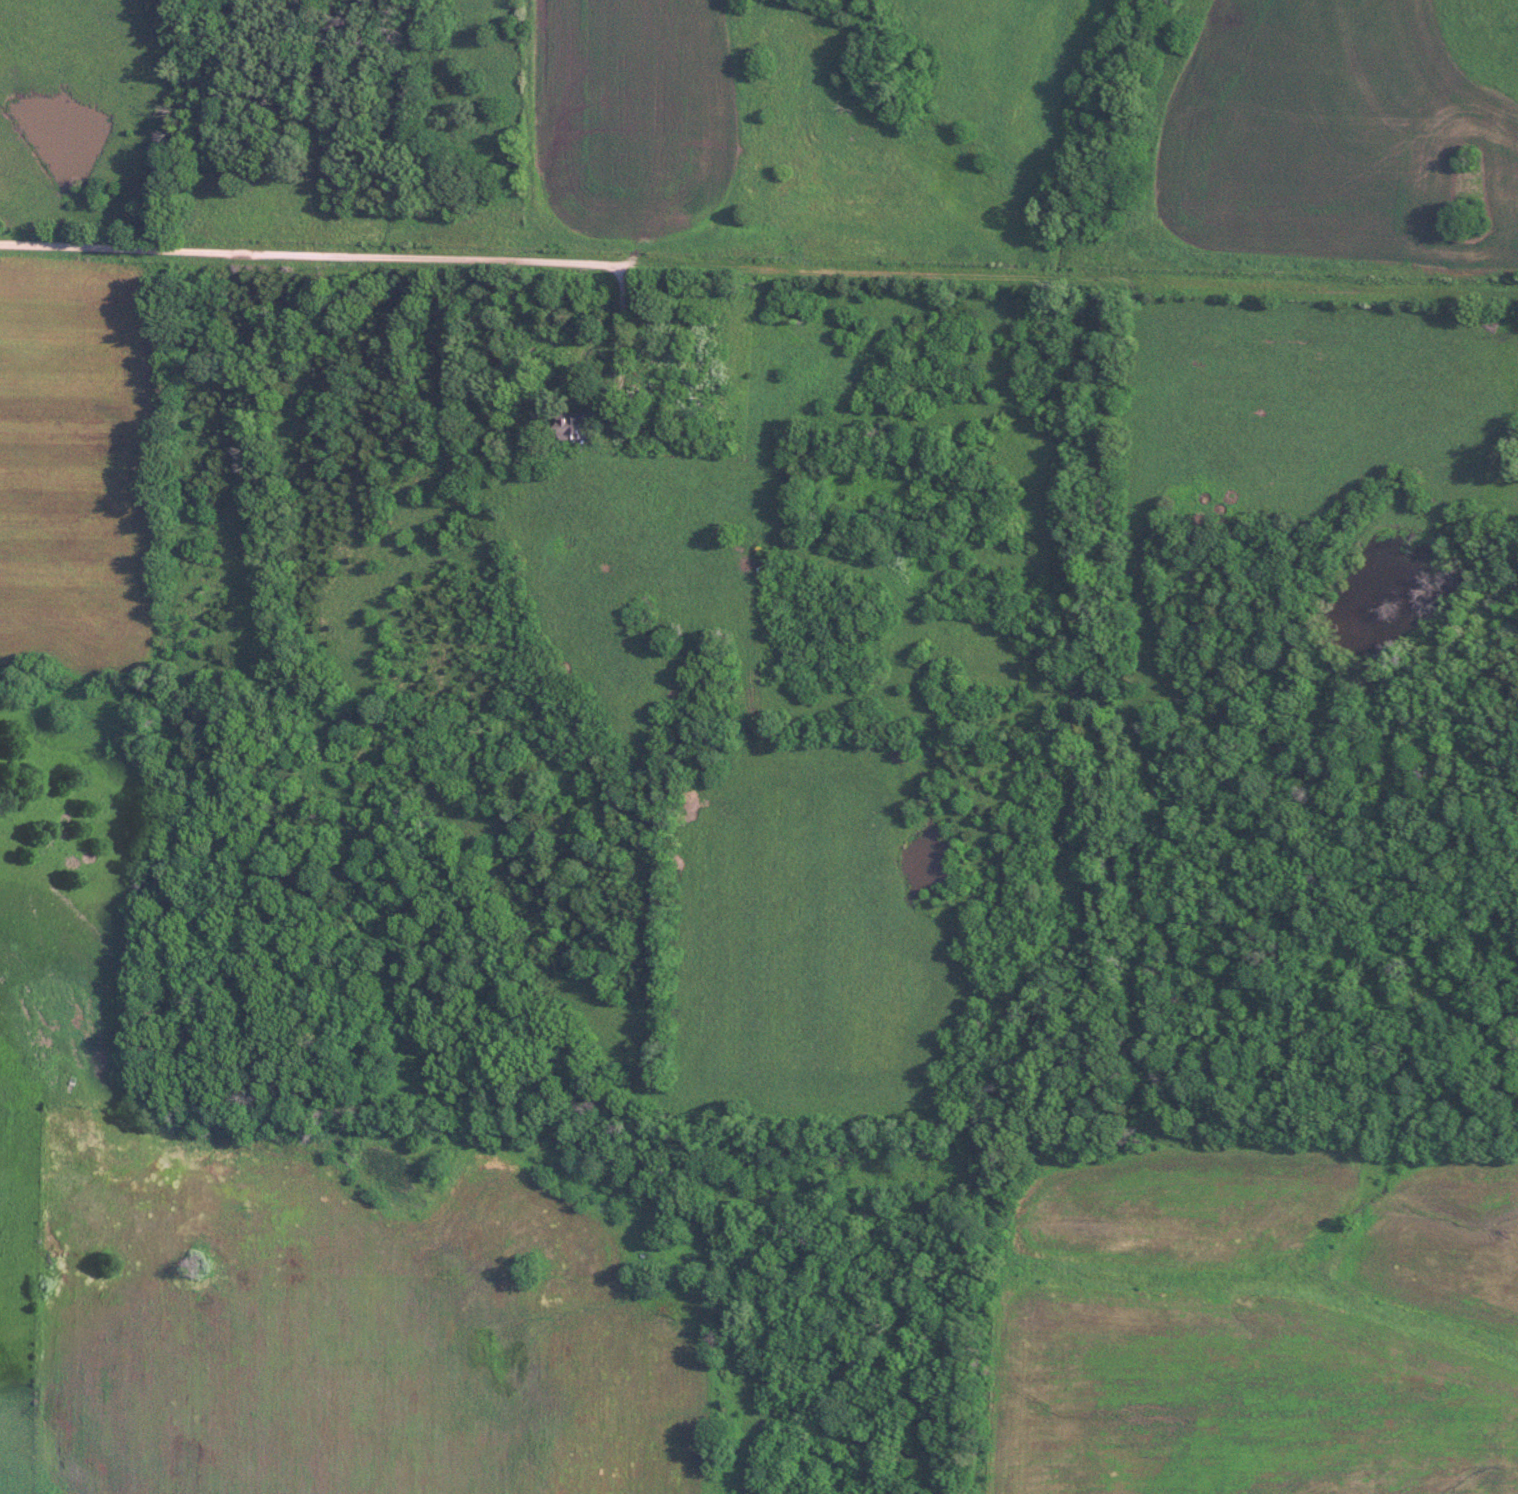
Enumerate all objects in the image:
road: (759, 263)
road: (617, 290)
road: (587, 358)
building: (568, 426)

